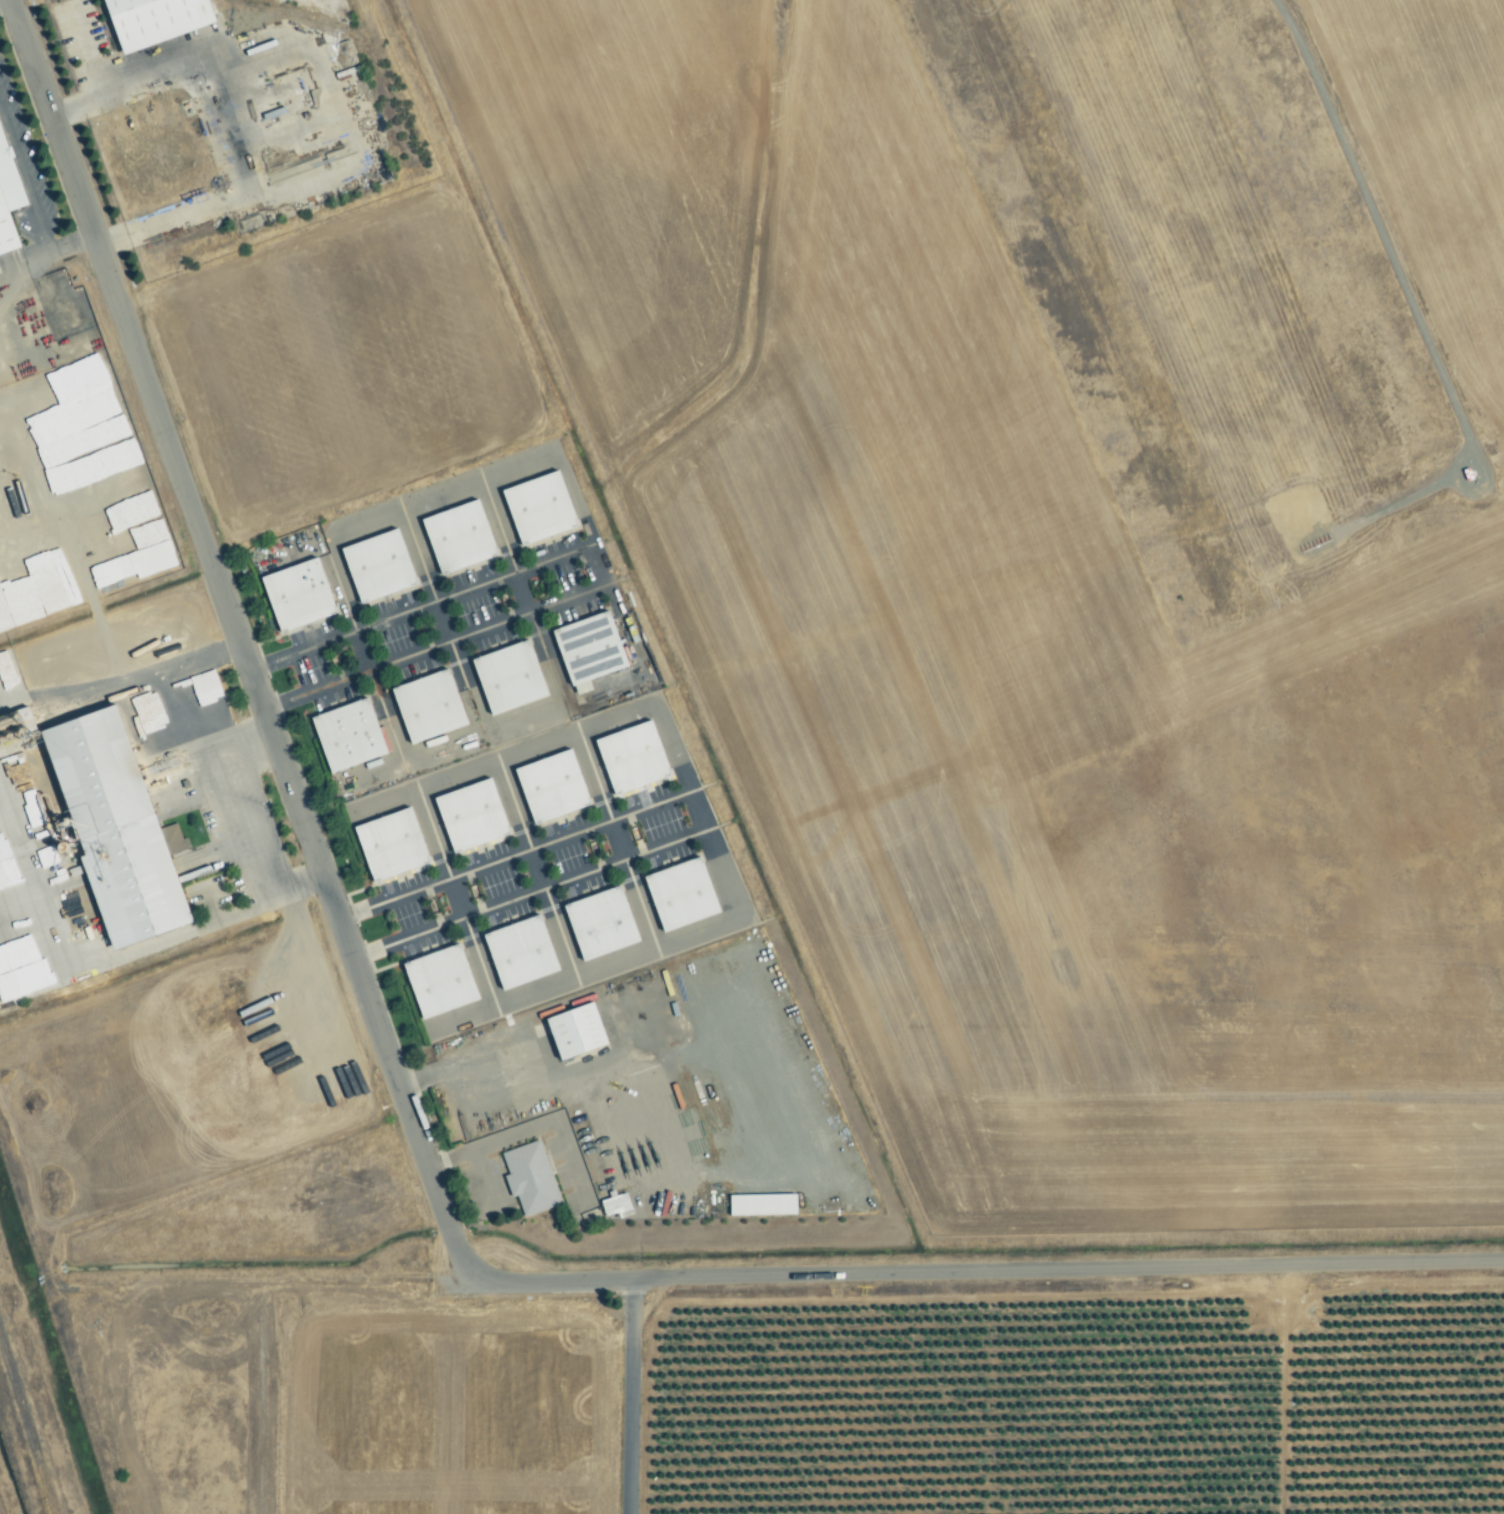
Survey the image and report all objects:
road: (0, 0)
building: (151, 20)
road: (89, 54)
road: (333, 94)
road: (24, 174)
building: (7, 202)
road: (170, 216)
road: (72, 245)
road: (28, 270)
road: (1407, 295)
road: (573, 496)
building: (535, 507)
road: (395, 508)
road: (499, 524)
building: (455, 537)
building: (126, 539)
road: (417, 554)
building: (375, 565)
road: (603, 576)
road: (523, 591)
building: (294, 594)
road: (568, 597)
road: (419, 606)
road: (443, 620)
building: (0, 625)
building: (586, 647)
road: (361, 649)
road: (396, 659)
building: (505, 676)
road: (469, 685)
road: (169, 686)
road: (376, 690)
road: (554, 694)
building: (425, 706)
building: (344, 734)
road: (515, 753)
building: (628, 757)
building: (548, 786)
road: (602, 794)
road: (387, 800)
building: (467, 815)
road: (242, 818)
road: (521, 823)
building: (112, 829)
road: (705, 830)
building: (387, 844)
building: (7, 872)
road: (528, 893)
building: (677, 894)
road: (638, 901)
building: (597, 923)
road: (559, 929)
building: (6, 944)
building: (516, 952)
road: (479, 959)
building: (22, 981)
building: (436, 981)
building: (571, 1031)
road: (477, 1061)
road: (413, 1081)
road: (412, 1126)
road: (490, 1141)
building: (528, 1178)
building: (759, 1205)
building: (614, 1206)
road: (630, 1396)
railway: (27, 1426)

